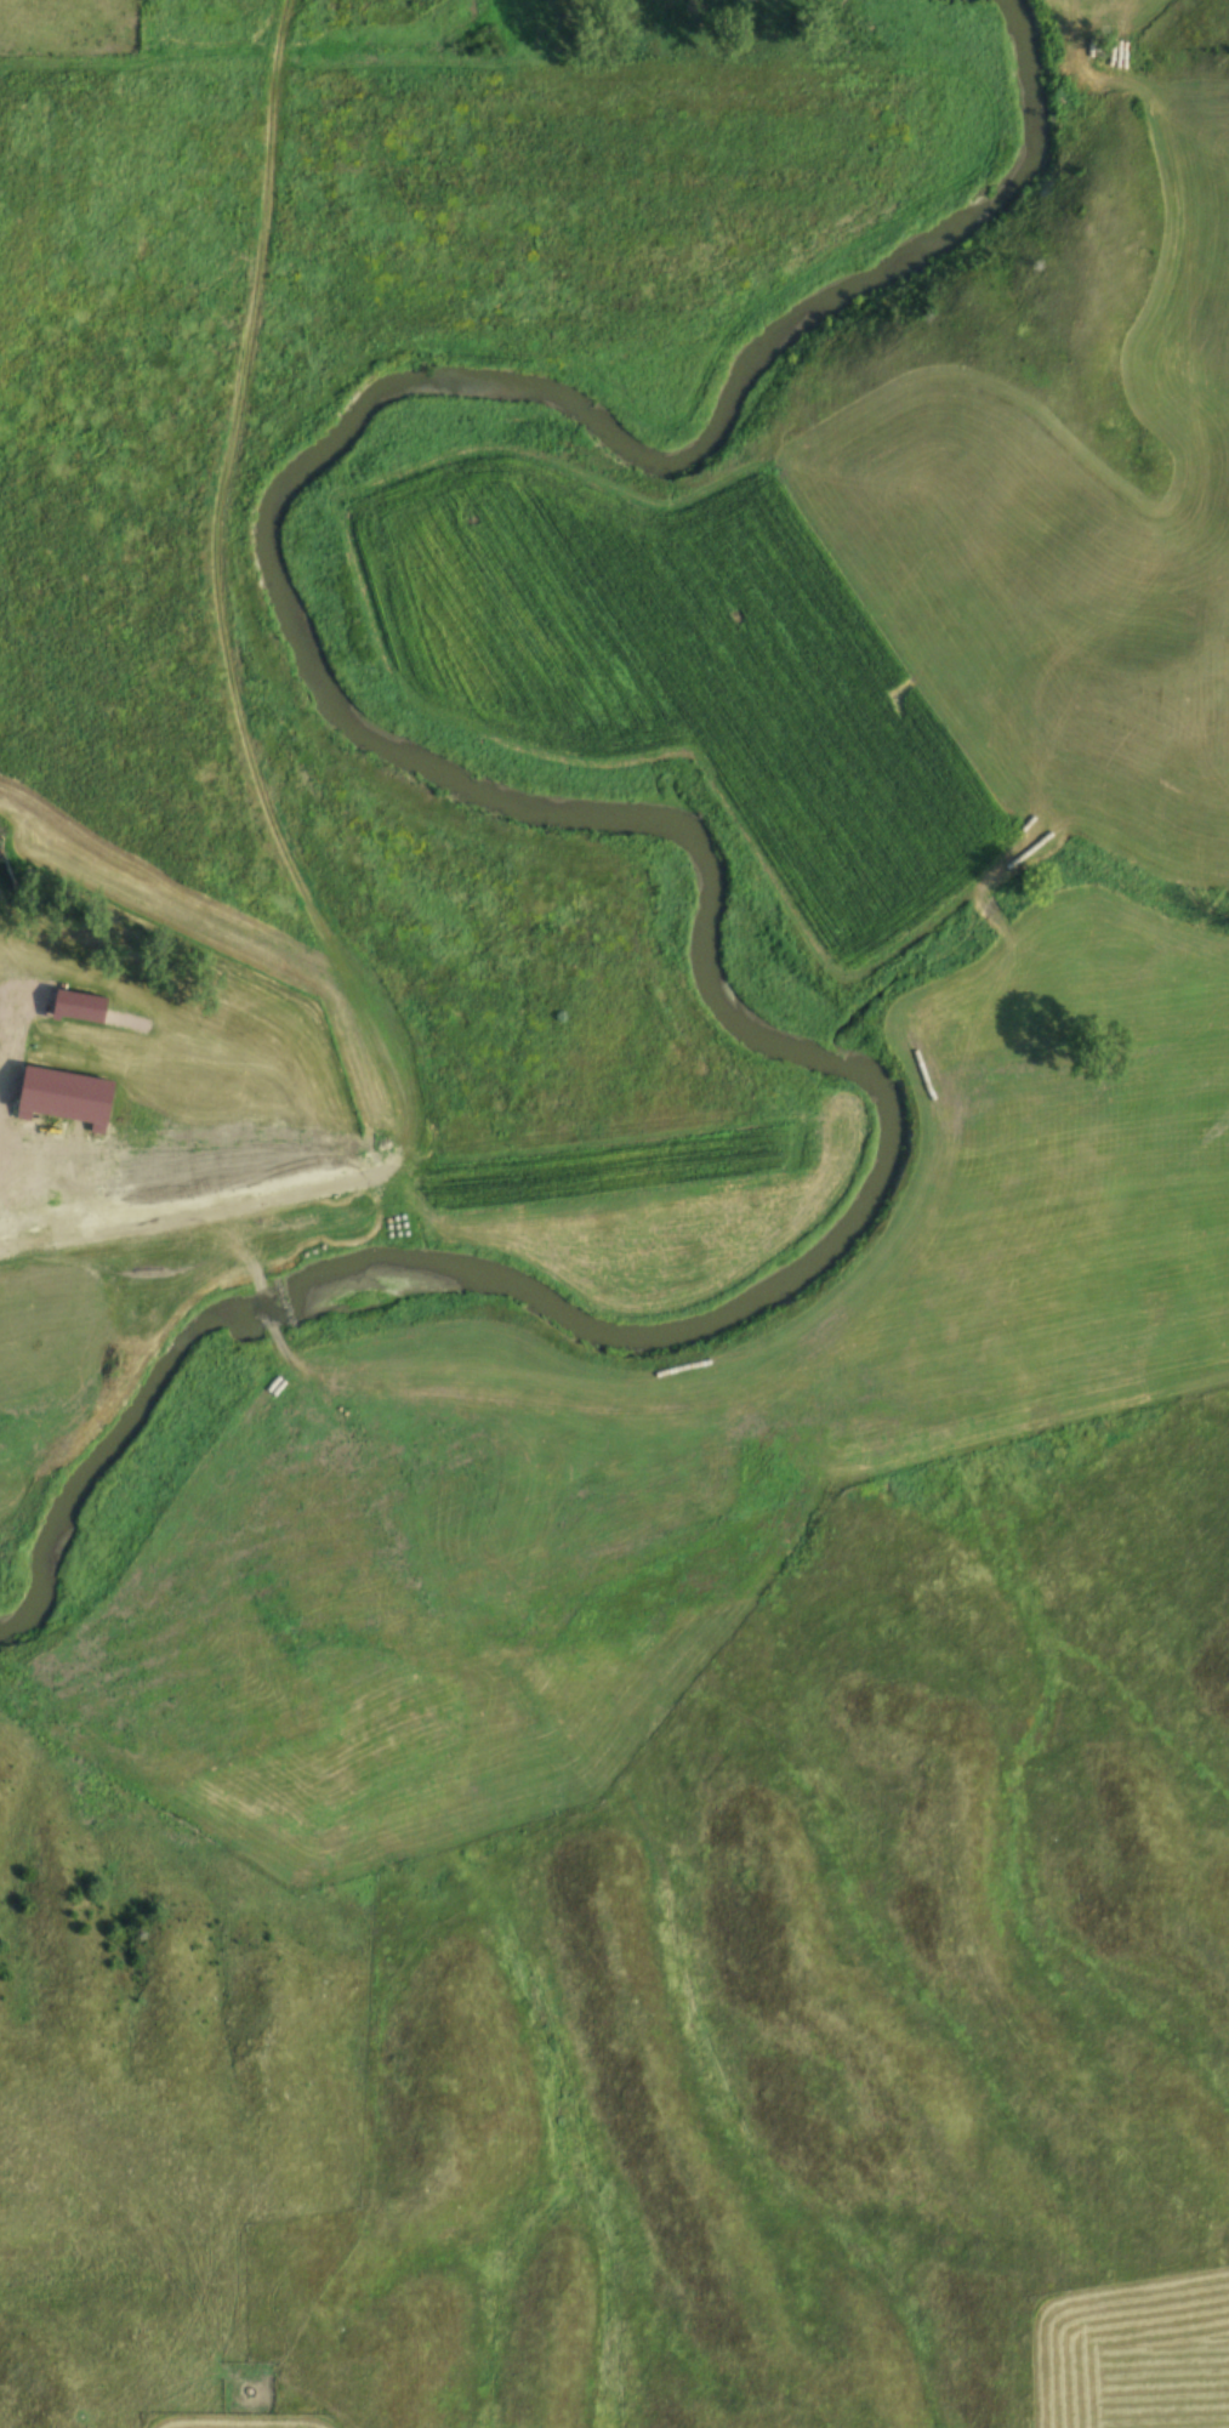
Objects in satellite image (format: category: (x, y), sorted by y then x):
river: (632, 814)
building: (80, 1003)
building: (114, 1062)
road: (49, 1194)
building: (175, 1194)

